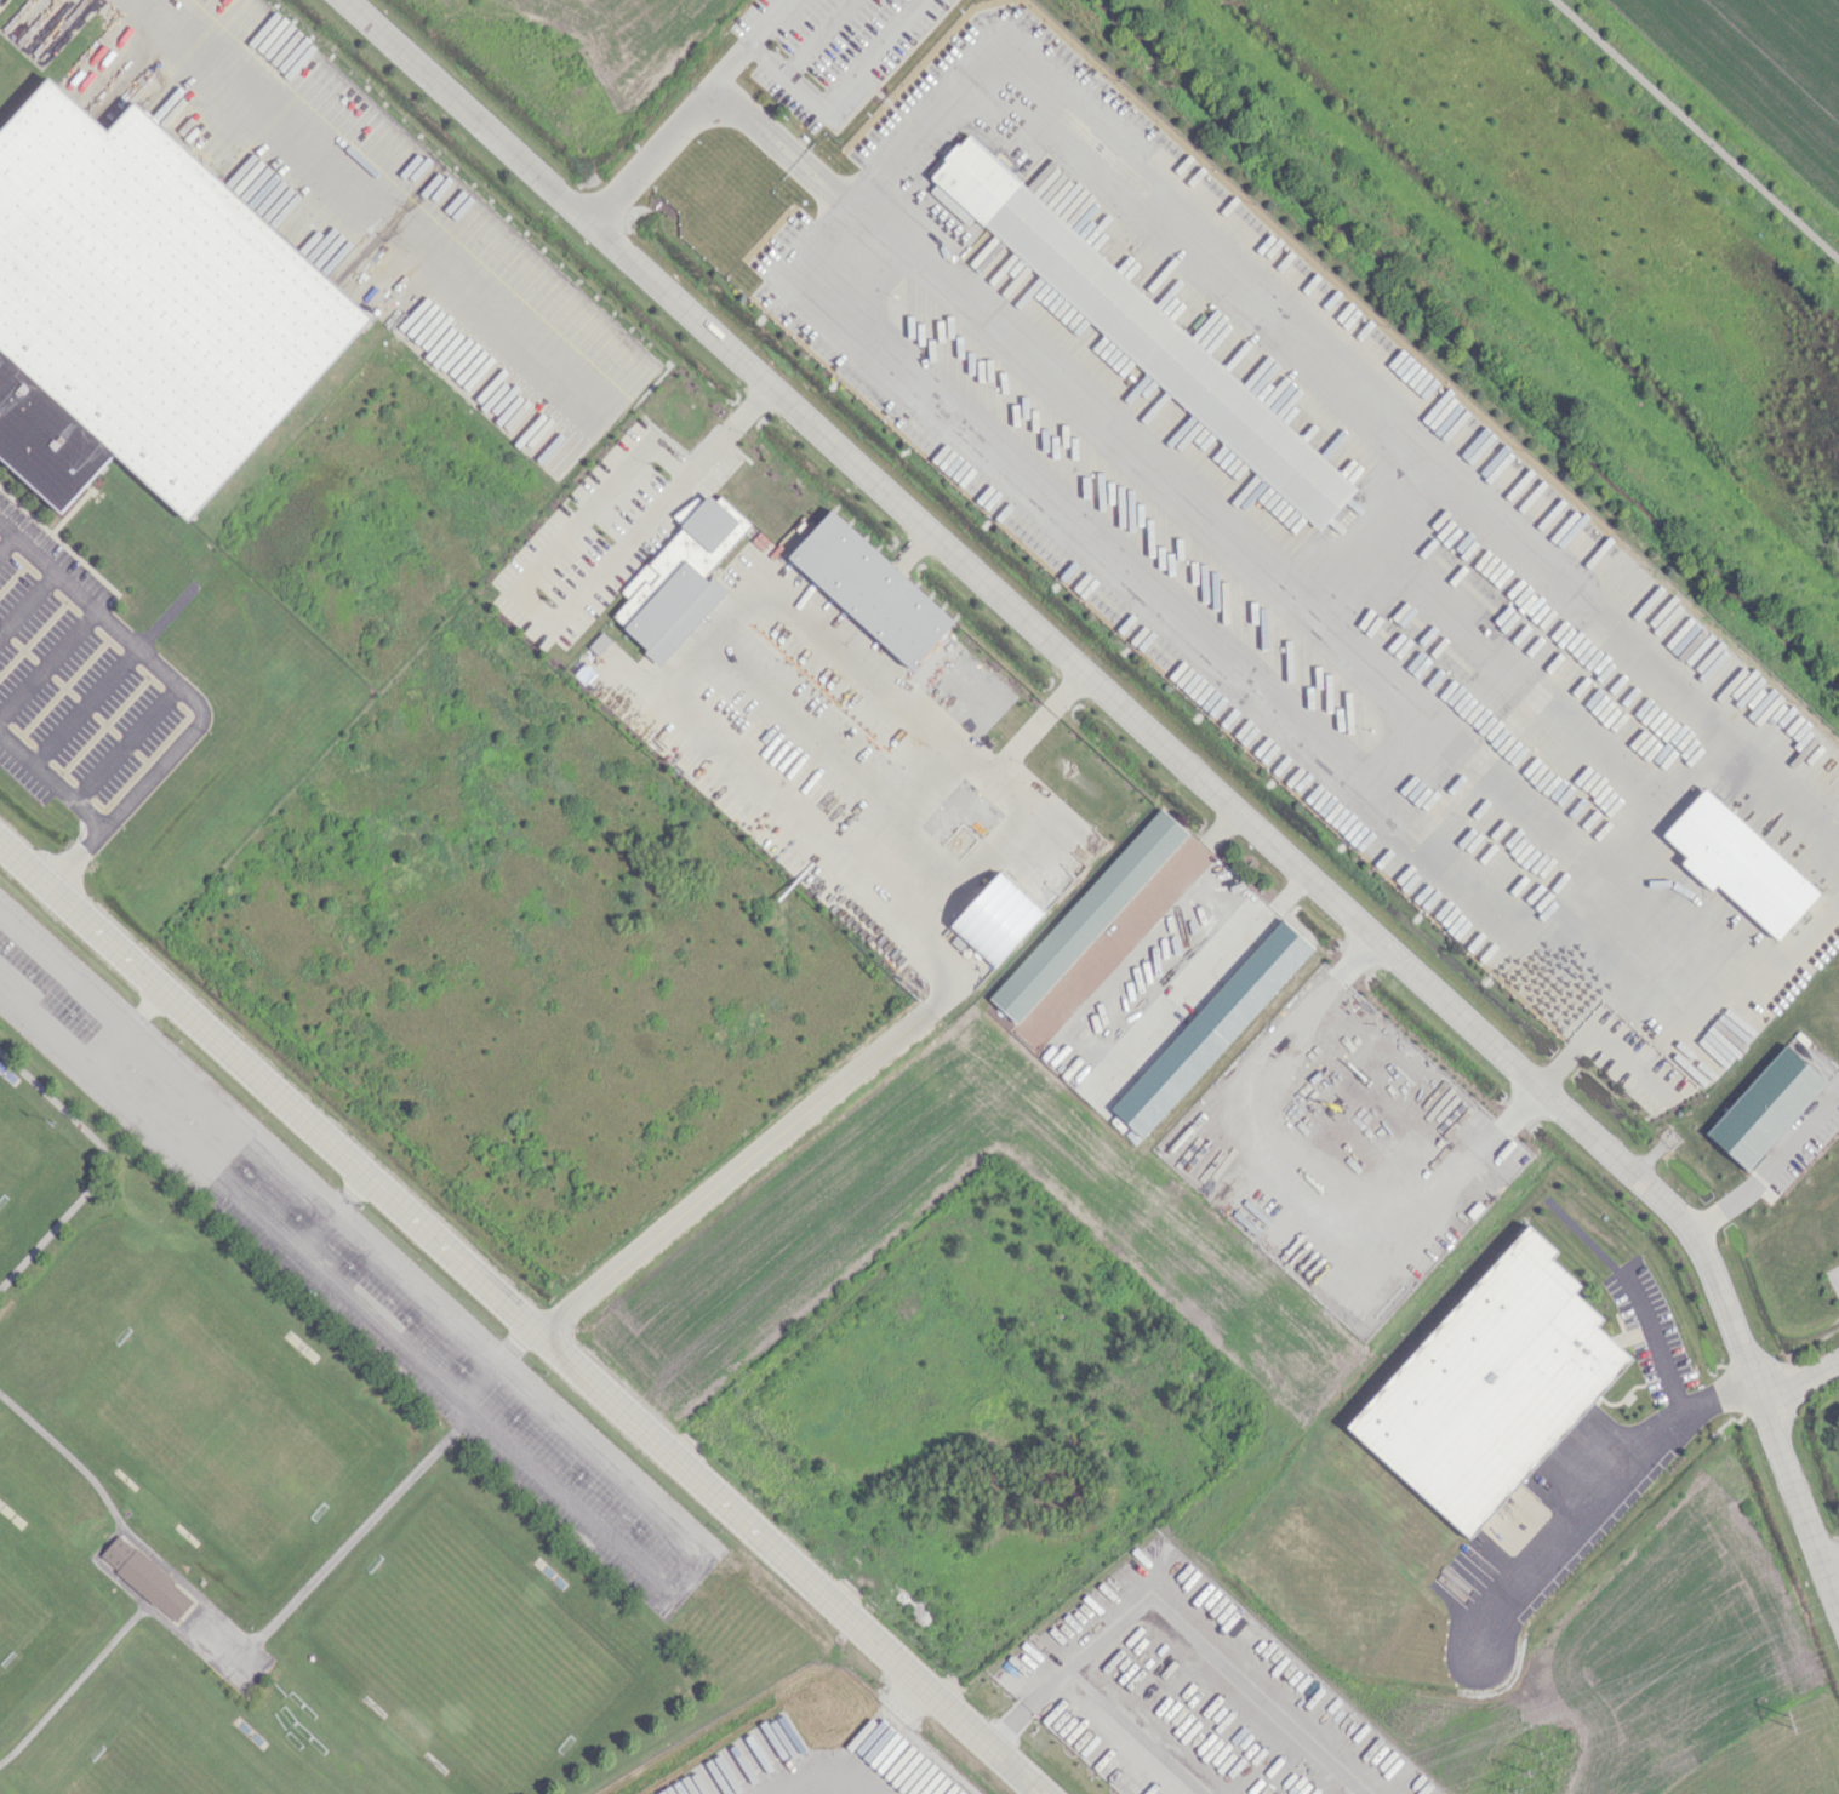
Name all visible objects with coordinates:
road: (769, 22)
road: (841, 88)
road: (741, 108)
road: (773, 132)
road: (1694, 132)
road: (669, 133)
road: (767, 138)
road: (818, 166)
road: (834, 192)
building: (143, 308)
building: (1149, 339)
road: (1347, 389)
road: (1020, 493)
building: (686, 509)
road: (6, 541)
building: (679, 578)
building: (869, 588)
road: (27, 604)
road: (559, 615)
road: (47, 662)
road: (187, 695)
road: (84, 707)
road: (125, 744)
road: (1170, 752)
road: (51, 783)
building: (1738, 863)
building: (1087, 914)
building: (995, 919)
road: (952, 988)
road: (1627, 1007)
road: (128, 1030)
building: (1765, 1107)
park: (24, 1153)
road: (1769, 1169)
road: (1286, 1204)
road: (327, 1211)
parking lot: (343, 1267)
road: (522, 1316)
road: (1652, 1342)
road: (493, 1364)
road: (1800, 1377)
building: (1491, 1384)
park: (223, 1436)
road: (1601, 1499)
road: (339, 1548)
road: (702, 1560)
building: (145, 1577)
park: (22, 1611)
park: (459, 1653)
road: (1220, 1663)
road: (1032, 1707)
power tower: (1787, 1720)
road: (1137, 1732)
park: (162, 1756)
power tower: (1527, 1771)
road: (824, 1776)

